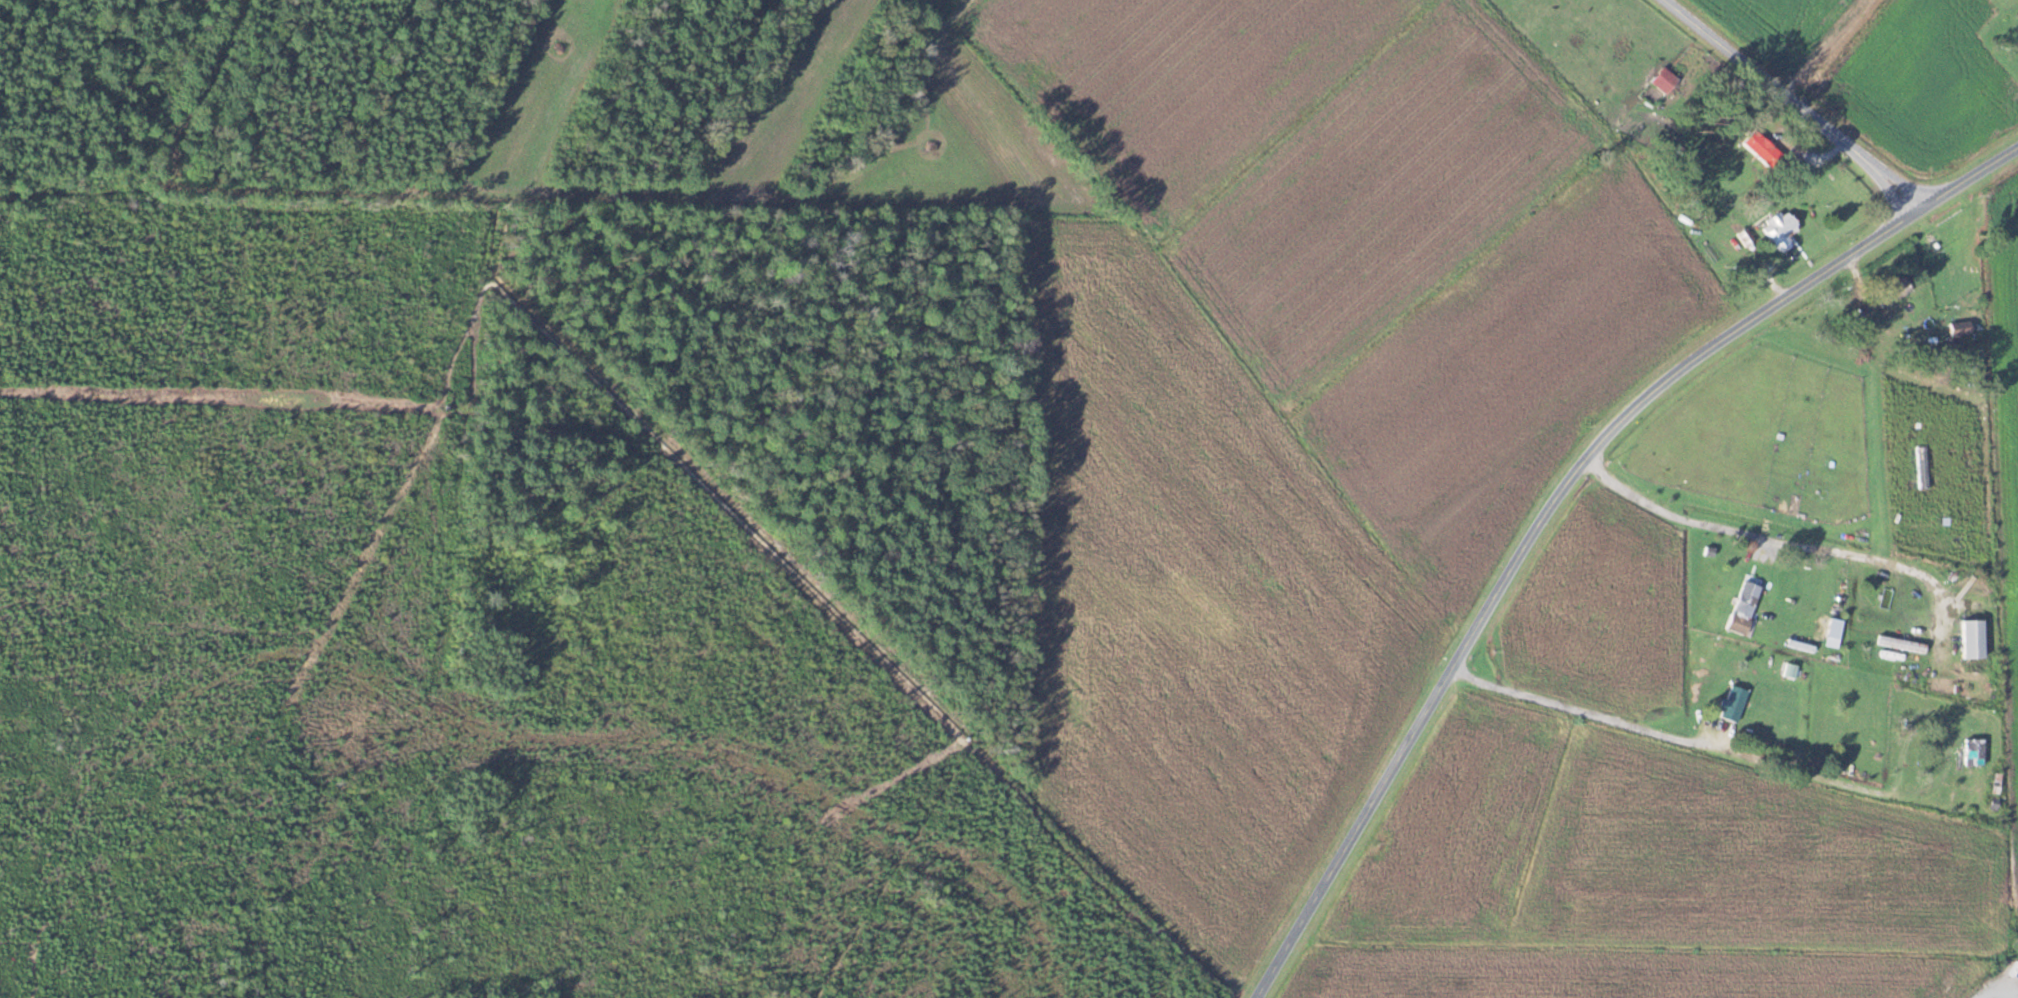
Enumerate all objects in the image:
building: (1664, 80)
road: (1797, 102)
building: (1761, 148)
road: (1971, 177)
building: (1780, 230)
building: (1894, 291)
building: (1960, 328)
building: (1921, 466)
road: (1793, 545)
road: (1532, 549)
building: (1743, 607)
building: (1972, 638)
building: (1732, 703)
road: (1693, 737)
building: (1973, 751)
road: (1990, 992)

